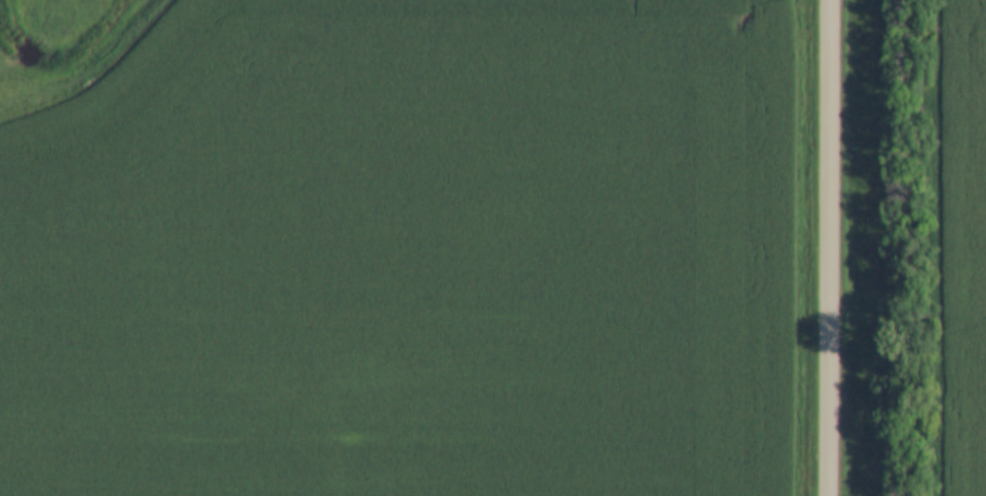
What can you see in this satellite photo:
road: (829, 248)

